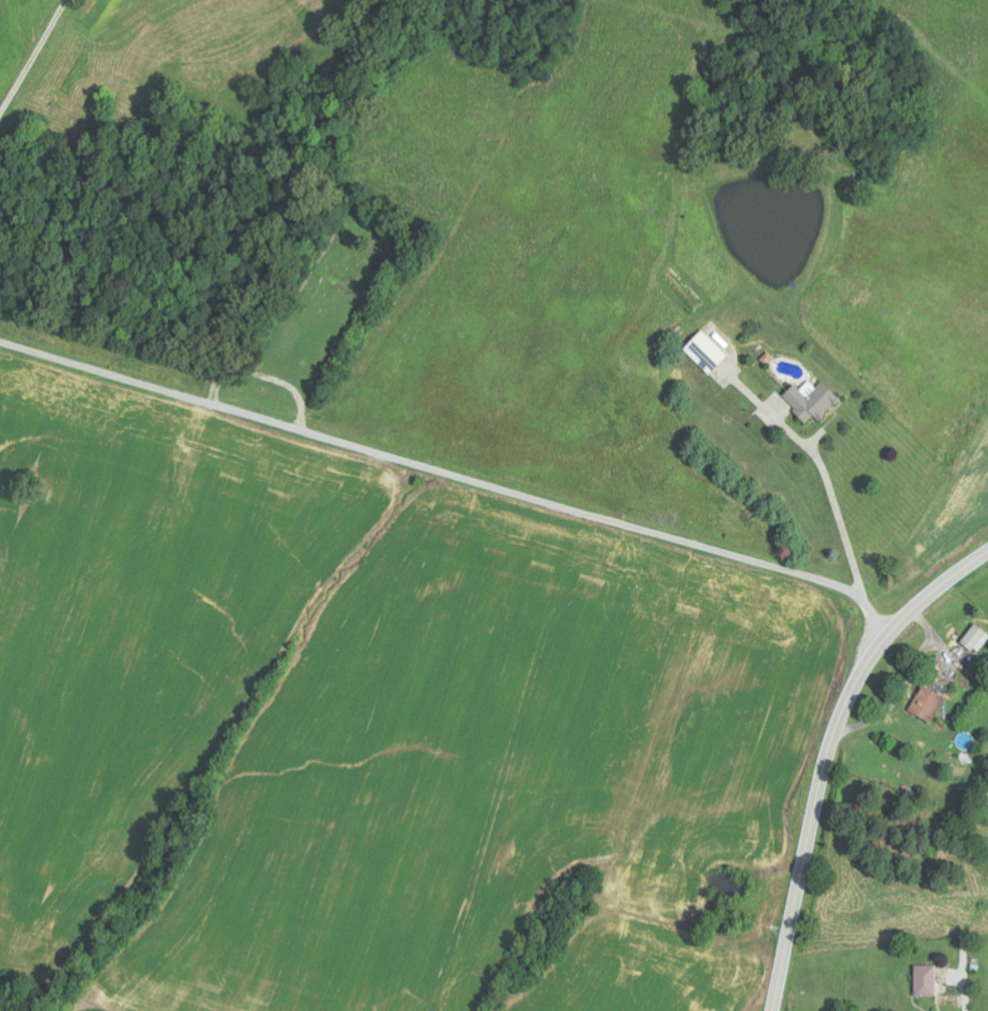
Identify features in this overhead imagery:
park: (330, 302)
building: (706, 352)
building: (810, 400)
road: (453, 476)
building: (977, 639)
building: (927, 704)
road: (829, 756)
building: (925, 981)

